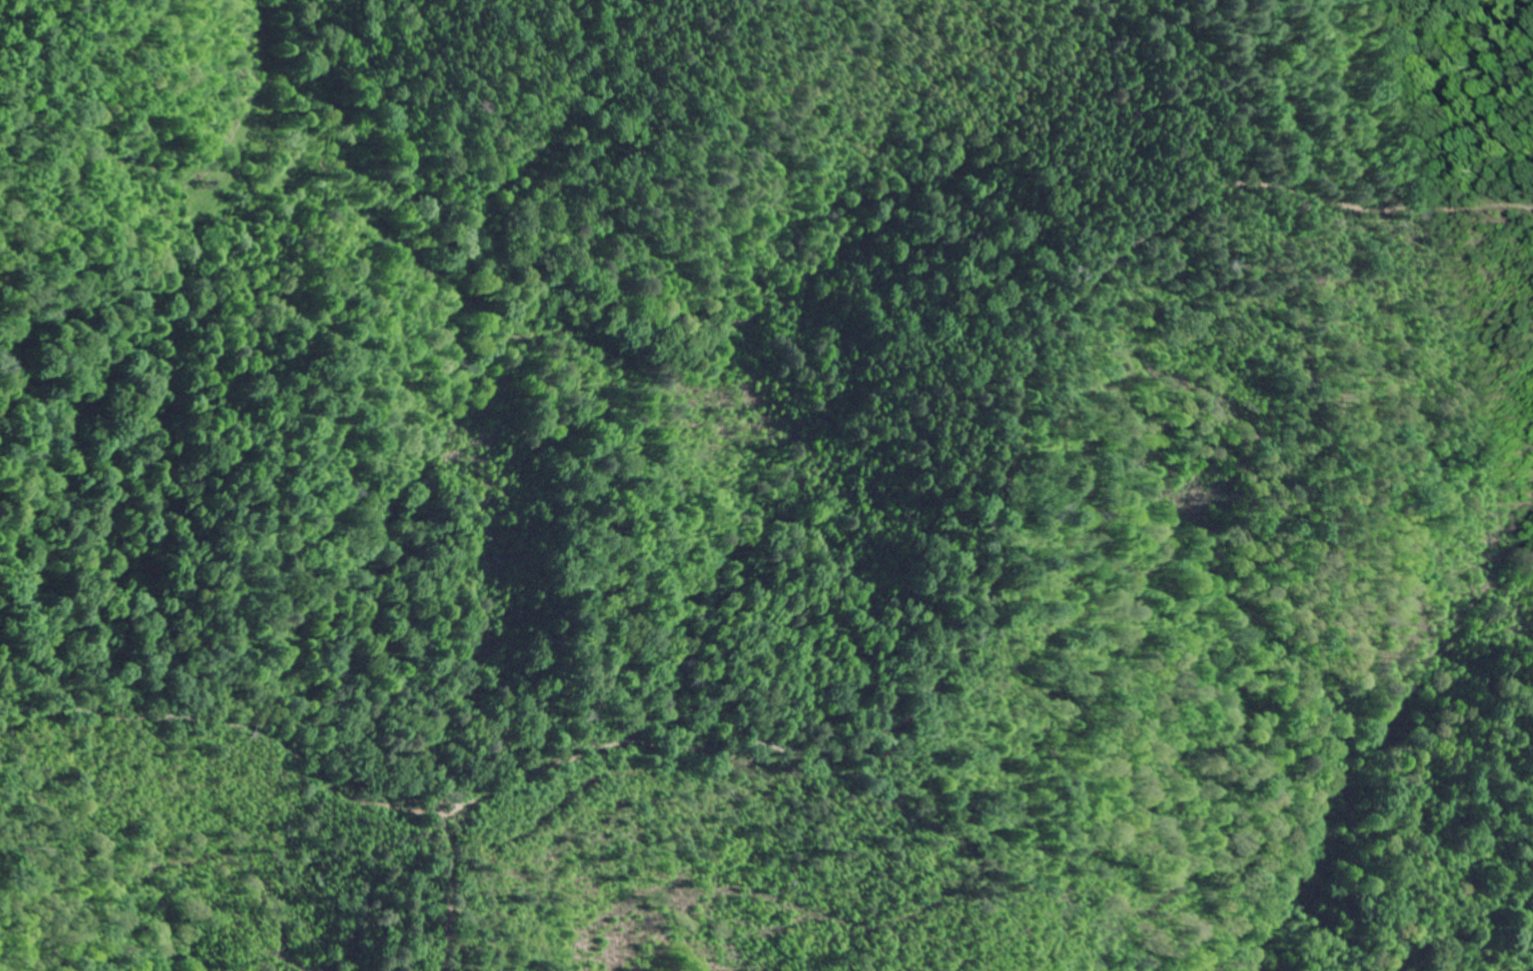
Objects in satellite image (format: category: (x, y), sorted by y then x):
road: (998, 506)

